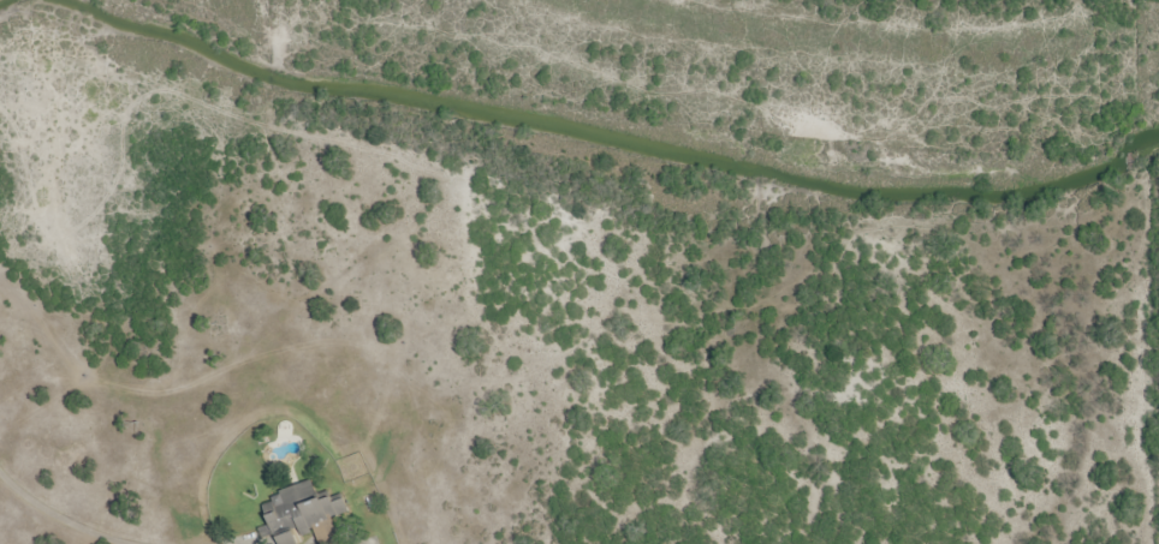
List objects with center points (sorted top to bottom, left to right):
building: (303, 512)

